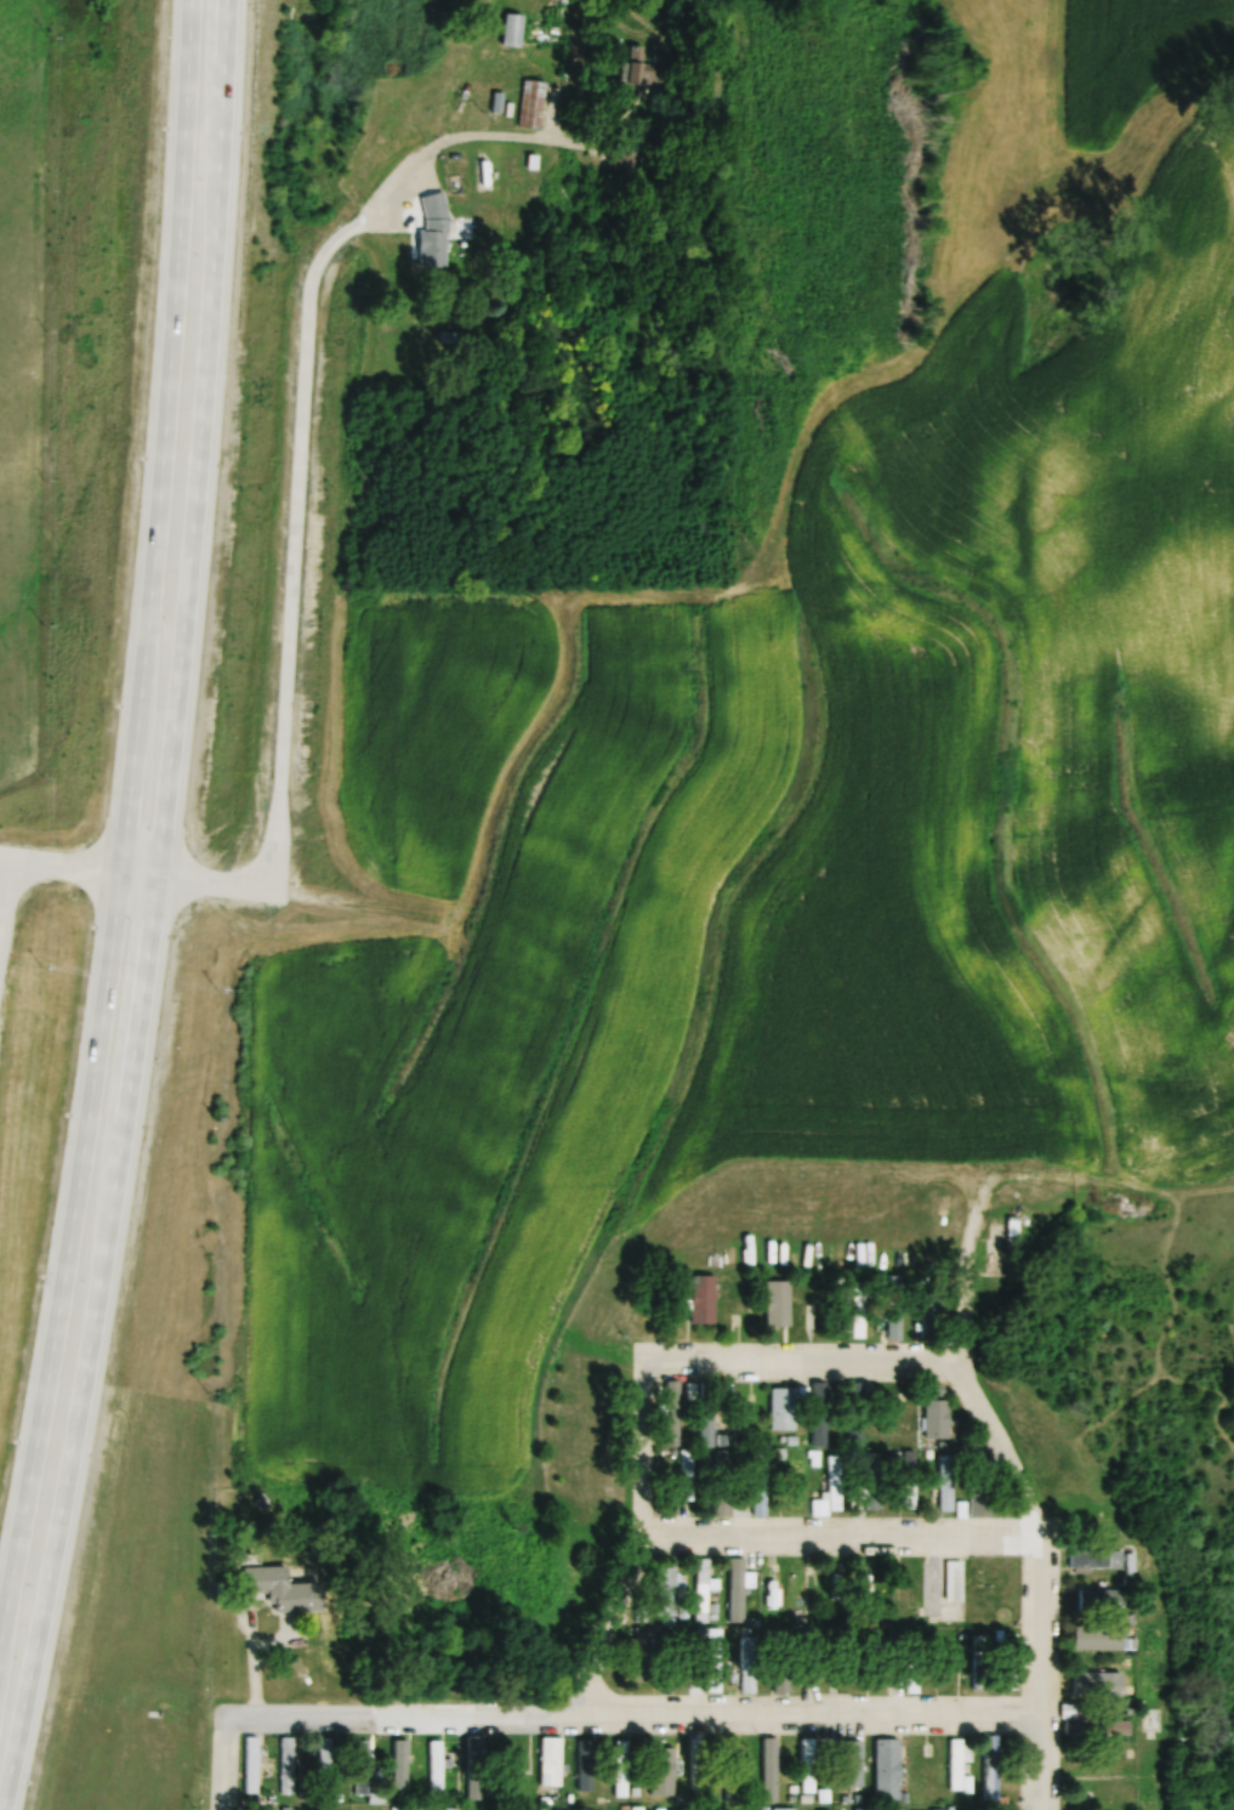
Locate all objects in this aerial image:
building: (514, 32)
building: (644, 72)
building: (534, 104)
road: (505, 138)
building: (436, 231)
road: (301, 581)
road: (127, 822)
road: (13, 897)
road: (152, 909)
building: (1001, 1249)
building: (705, 1299)
road: (959, 1306)
building: (747, 1307)
building: (786, 1310)
building: (860, 1312)
building: (897, 1315)
road: (828, 1357)
building: (744, 1408)
building: (785, 1409)
building: (855, 1411)
building: (675, 1414)
building: (939, 1418)
building: (899, 1424)
building: (709, 1428)
building: (688, 1475)
building: (910, 1480)
building: (874, 1481)
building: (836, 1482)
building: (762, 1483)
building: (948, 1483)
building: (726, 1485)
building: (800, 1486)
building: (984, 1500)
road: (641, 1522)
road: (835, 1534)
building: (1098, 1560)
building: (837, 1577)
building: (956, 1579)
road: (1037, 1579)
building: (740, 1588)
building: (801, 1588)
building: (284, 1590)
building: (704, 1590)
building: (670, 1593)
building: (769, 1593)
building: (1102, 1601)
building: (1102, 1638)
building: (1013, 1662)
building: (717, 1663)
building: (984, 1663)
building: (750, 1668)
building: (783, 1674)
building: (1096, 1684)
road: (633, 1724)
building: (1101, 1727)
building: (735, 1748)
building: (328, 1758)
building: (925, 1760)
building: (553, 1763)
building: (852, 1764)
road: (223, 1765)
building: (254, 1765)
building: (699, 1765)
building: (957, 1765)
building: (1096, 1765)
building: (809, 1766)
building: (993, 1769)
building: (289, 1770)
building: (438, 1770)
building: (477, 1770)
building: (516, 1770)
building: (889, 1770)
building: (622, 1771)
building: (772, 1771)
building: (665, 1772)
building: (363, 1774)
building: (734, 1788)
building: (1093, 1802)
building: (271, 1809)
building: (381, 1809)
building: (638, 1809)
building: (864, 1809)
building: (902, 1809)

